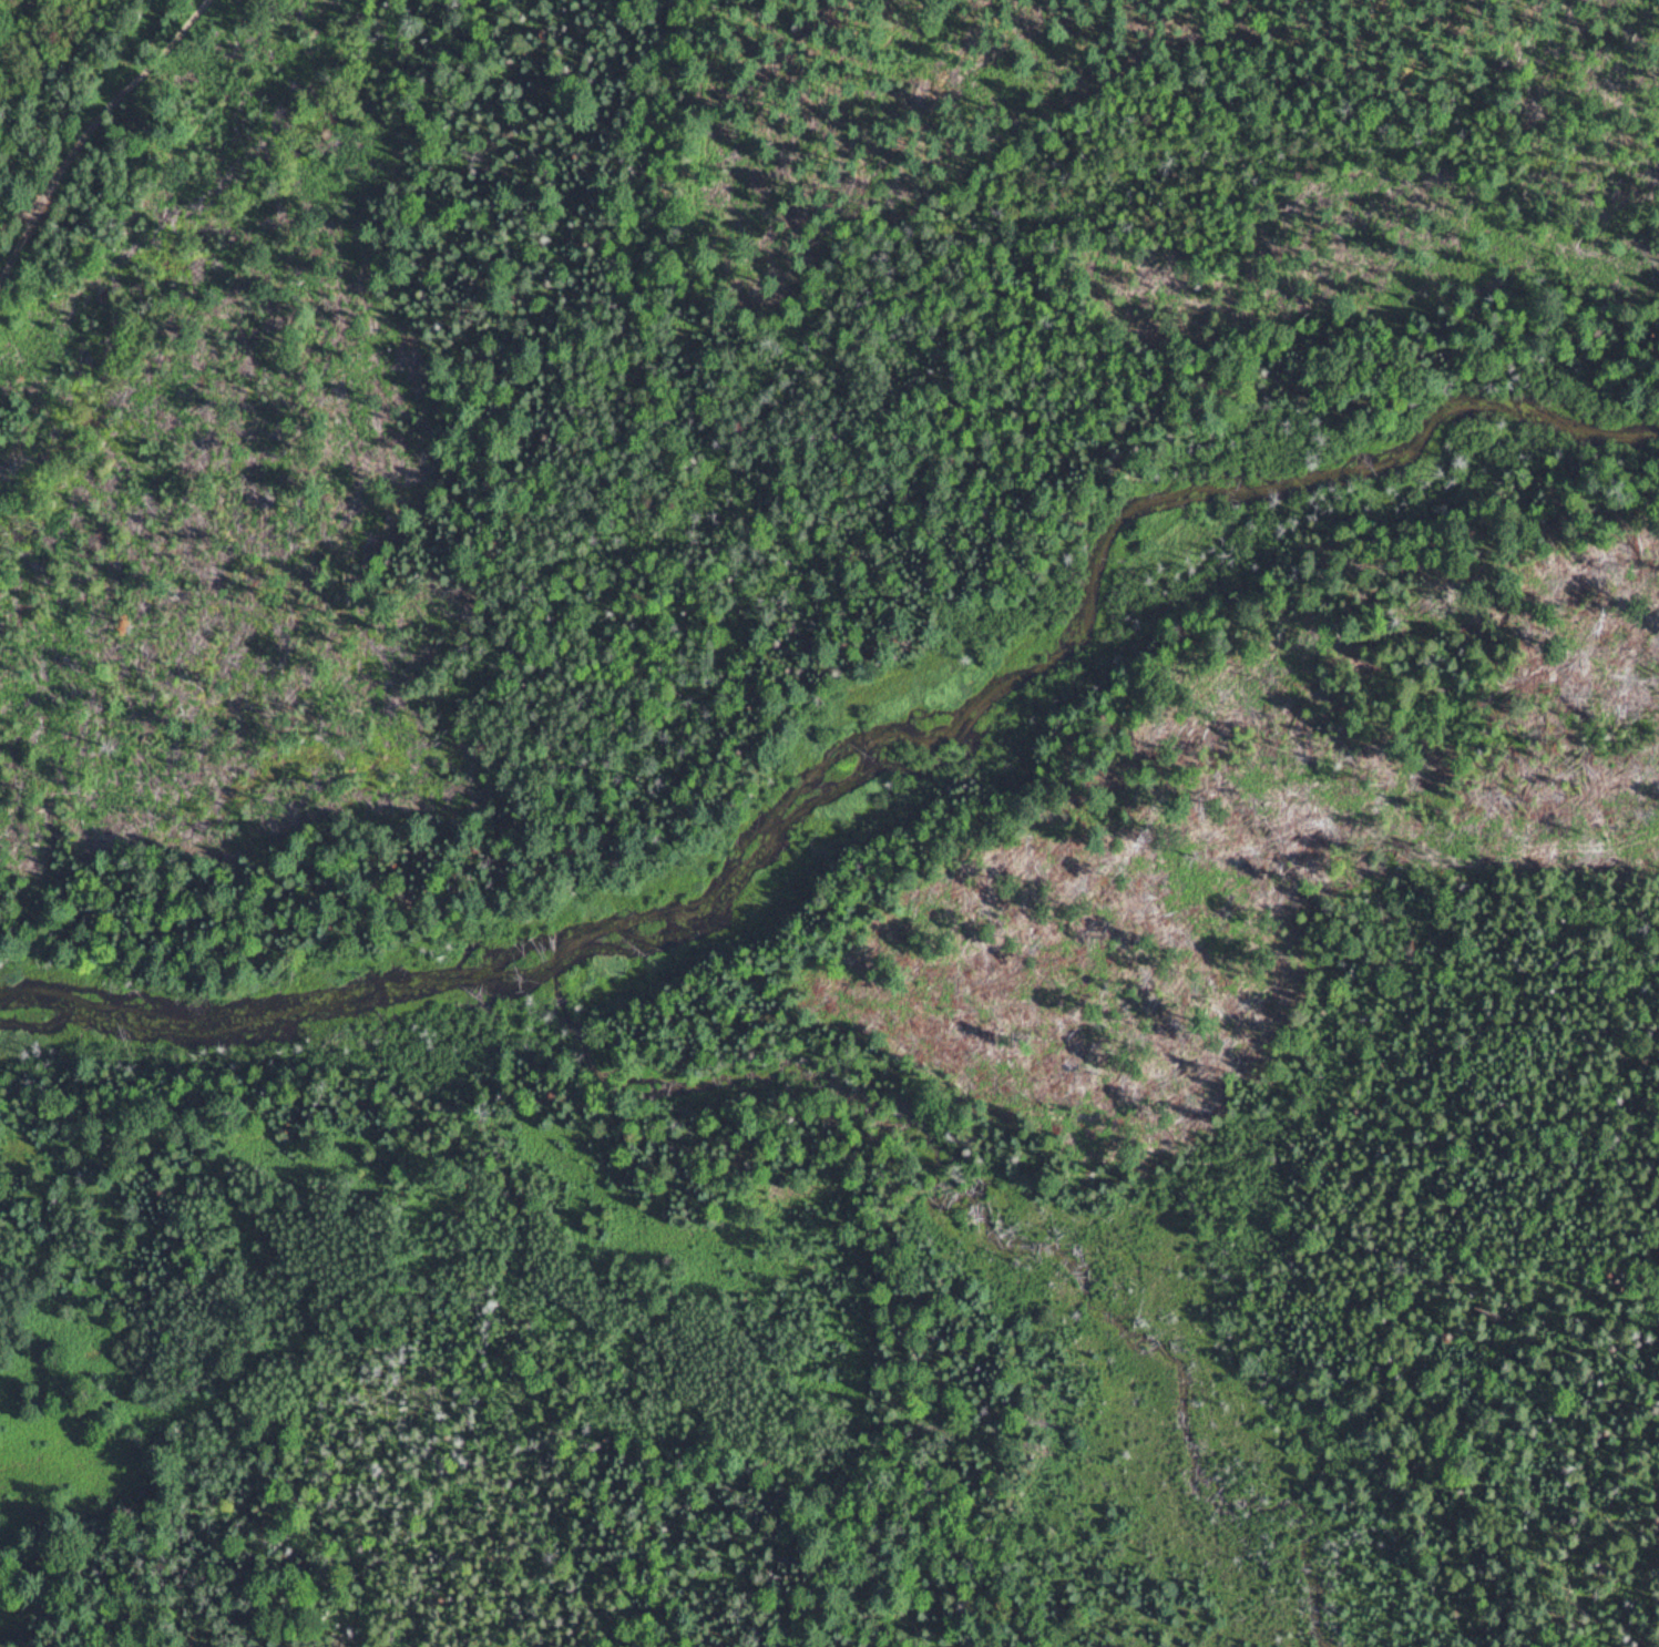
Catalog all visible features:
road: (104, 117)

